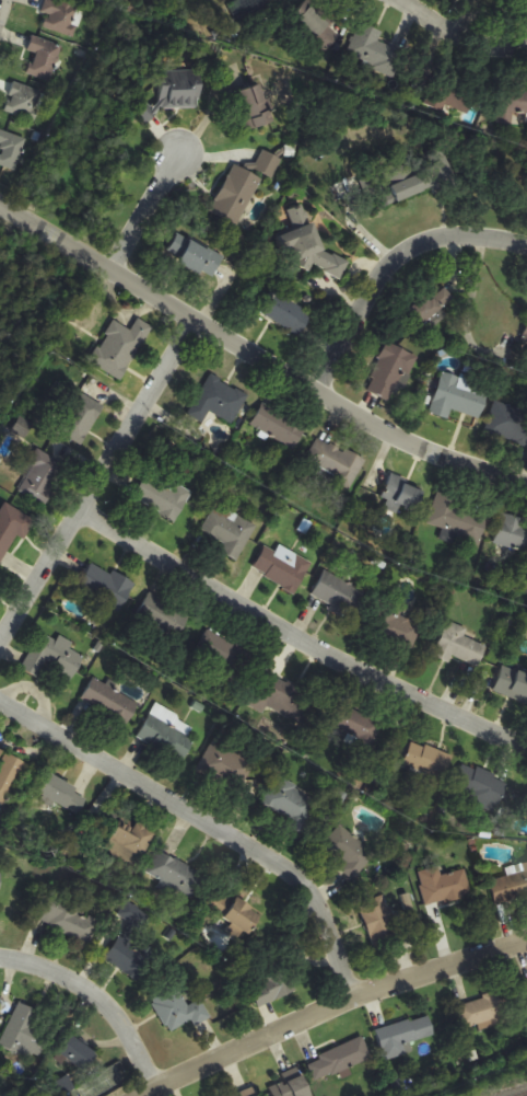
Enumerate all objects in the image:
road: (2, 4)
road: (407, 13)
building: (60, 16)
building: (316, 28)
road: (478, 38)
building: (374, 50)
building: (43, 58)
building: (175, 93)
building: (450, 96)
building: (23, 101)
building: (512, 101)
building: (256, 105)
building: (11, 150)
building: (267, 164)
building: (415, 177)
building: (235, 195)
road: (144, 215)
building: (194, 256)
building: (332, 265)
road: (385, 265)
building: (428, 310)
building: (285, 313)
building: (119, 348)
road: (256, 362)
building: (390, 372)
building: (458, 397)
building: (218, 401)
building: (79, 418)
building: (507, 424)
building: (279, 427)
building: (335, 461)
building: (38, 476)
road: (99, 483)
building: (402, 495)
building: (162, 498)
building: (457, 518)
building: (10, 530)
building: (227, 532)
building: (512, 534)
building: (282, 567)
building: (106, 586)
building: (339, 595)
building: (164, 615)
building: (398, 627)
road: (298, 641)
building: (459, 646)
building: (219, 656)
building: (54, 658)
building: (512, 684)
building: (282, 699)
building: (109, 702)
building: (353, 727)
building: (165, 736)
building: (426, 760)
building: (232, 766)
building: (8, 773)
building: (479, 787)
building: (58, 793)
building: (288, 804)
building: (526, 807)
road: (208, 822)
building: (129, 843)
building: (348, 852)
building: (175, 875)
building: (0, 877)
building: (442, 886)
building: (510, 887)
building: (237, 913)
building: (68, 920)
building: (379, 922)
building: (128, 959)
building: (271, 989)
building: (524, 992)
road: (96, 996)
building: (178, 1008)
road: (329, 1010)
building: (483, 1011)
building: (23, 1031)
building: (402, 1037)
building: (74, 1054)
building: (338, 1061)
building: (291, 1085)
building: (14, 1093)
railway: (520, 1094)

